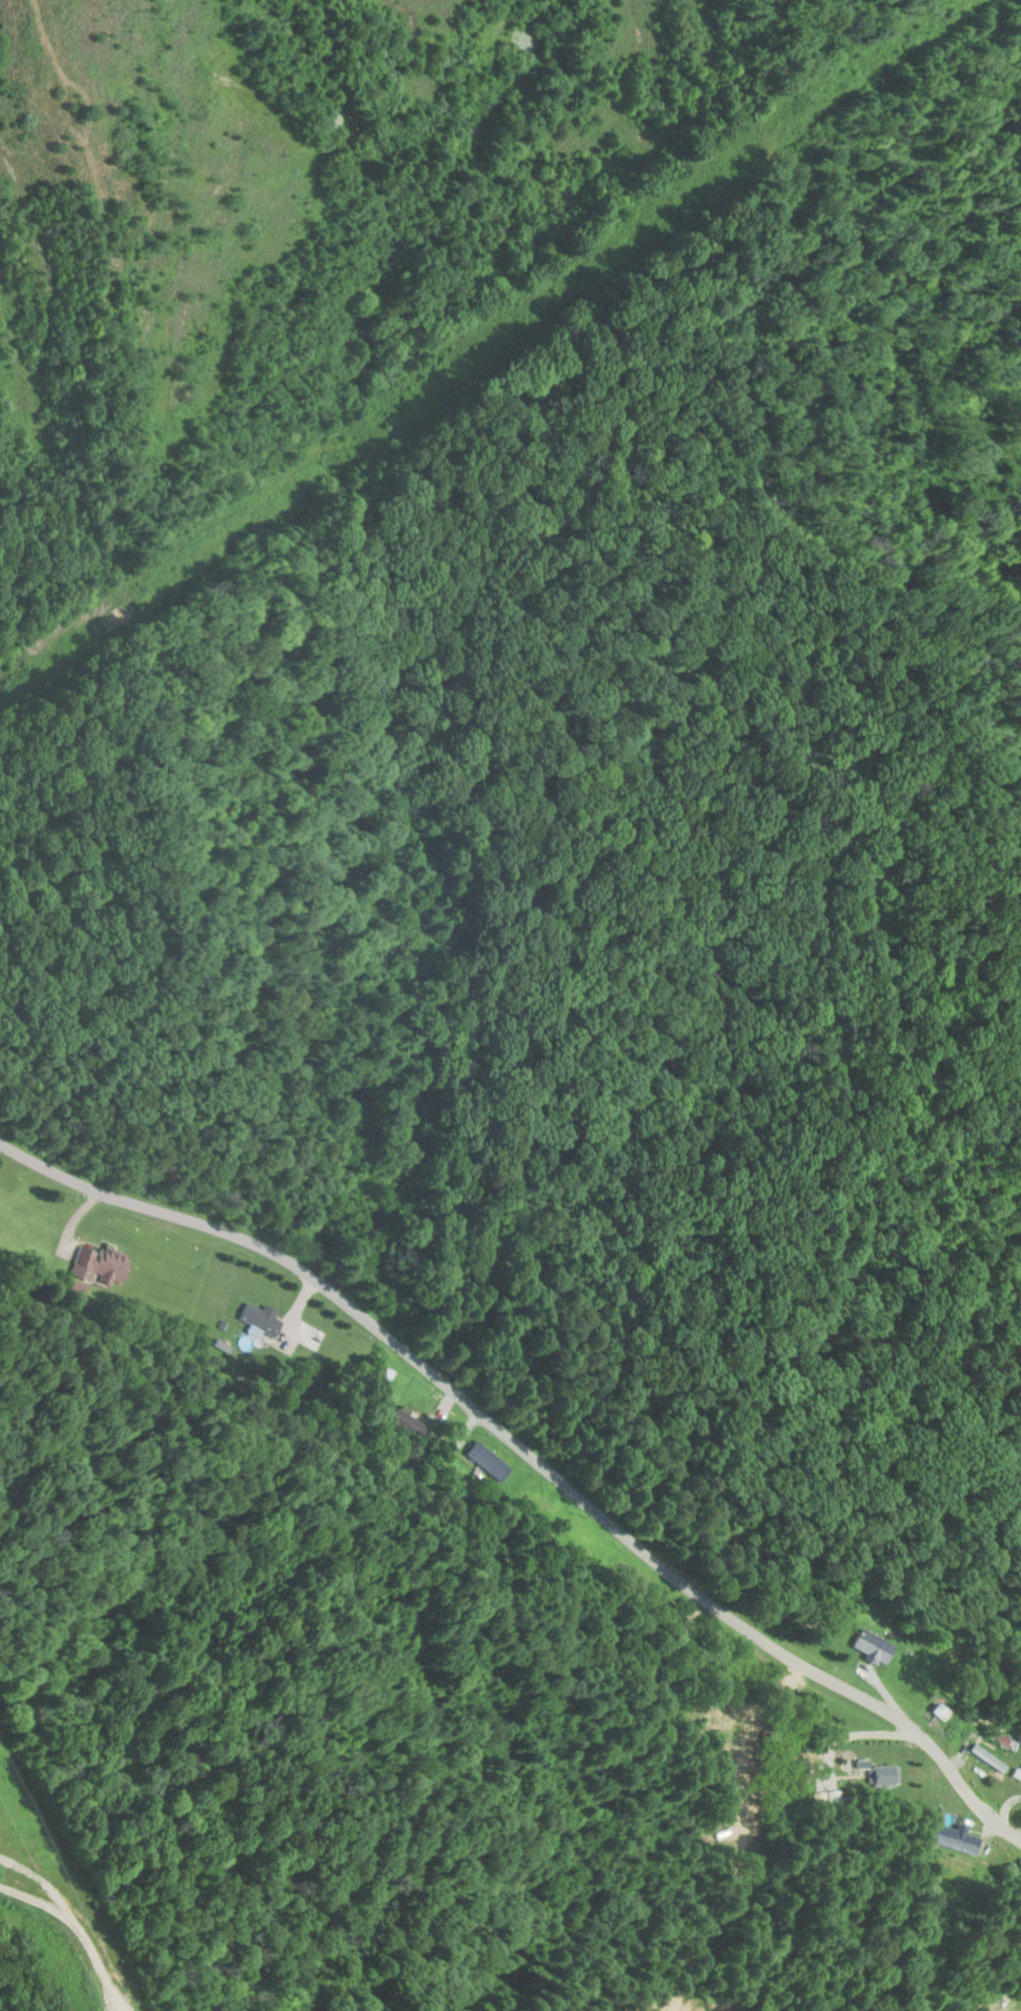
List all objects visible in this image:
road: (481, 1412)
building: (872, 1648)
building: (1003, 1741)
road: (942, 1757)
building: (988, 1759)
building: (882, 1777)

